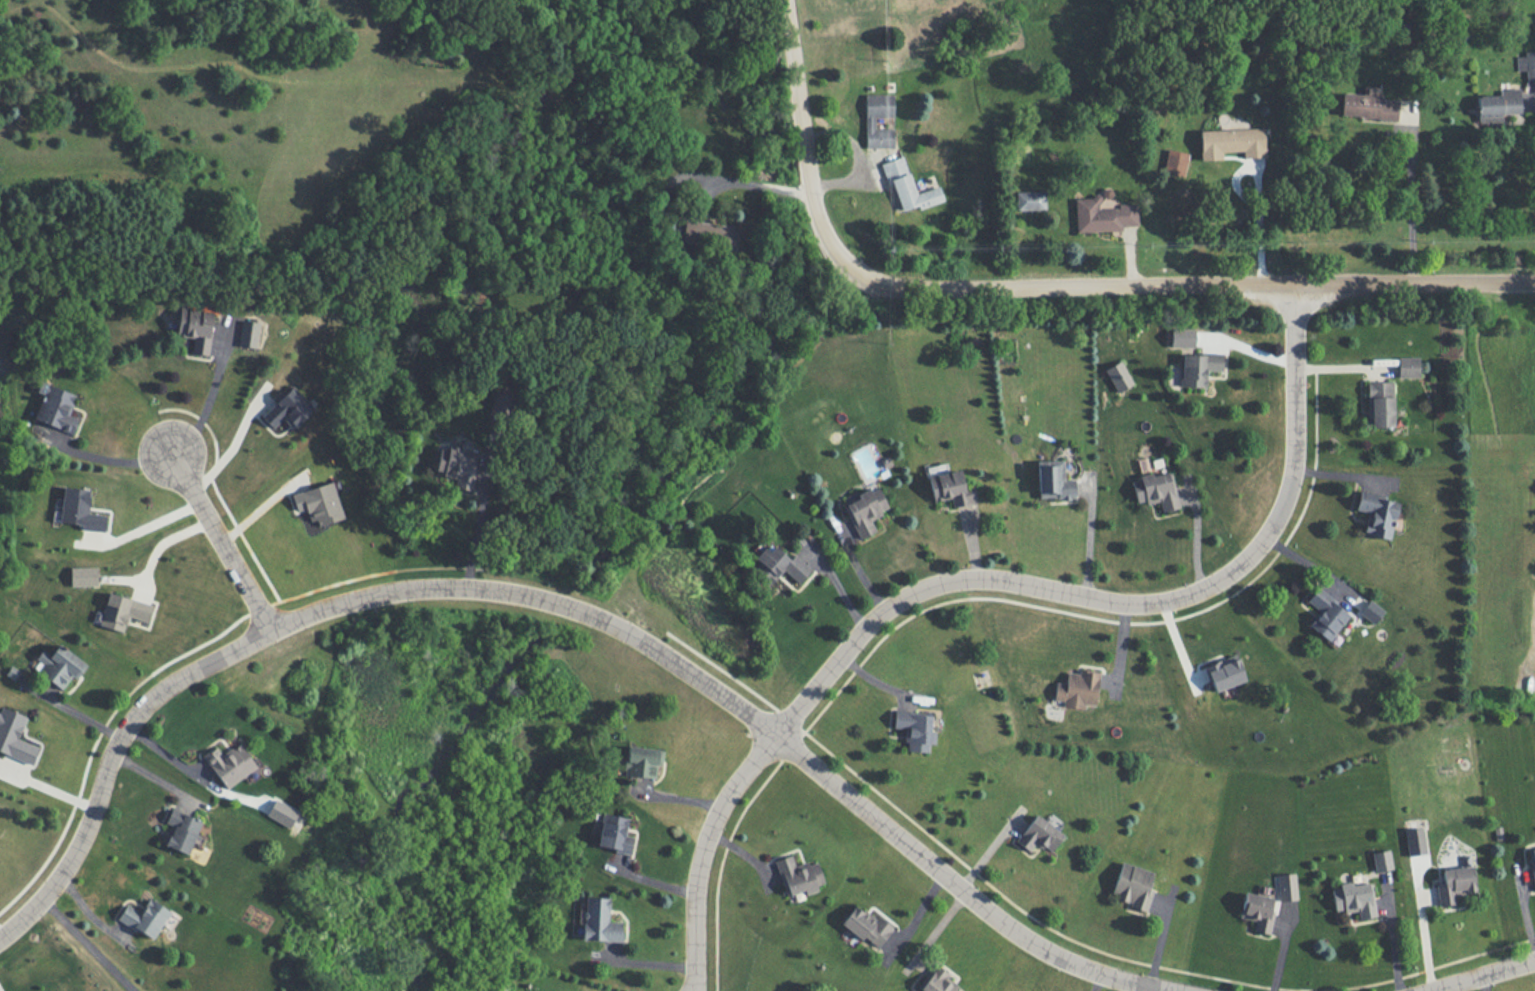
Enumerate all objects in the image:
building: (1526, 63)
building: (1367, 104)
building: (1497, 104)
building: (870, 122)
building: (1230, 142)
building: (1174, 161)
road: (747, 185)
building: (908, 185)
building: (1029, 199)
road: (1412, 205)
building: (1102, 214)
road: (1259, 228)
building: (709, 234)
road: (1047, 288)
building: (195, 327)
building: (248, 332)
building: (1181, 337)
road: (1246, 349)
building: (1407, 366)
building: (1197, 367)
building: (1118, 375)
road: (210, 399)
building: (1379, 402)
building: (500, 403)
building: (55, 406)
building: (287, 408)
building: (58, 432)
road: (230, 442)
road: (113, 461)
building: (457, 466)
road: (1342, 471)
building: (1052, 480)
building: (948, 485)
building: (1155, 489)
building: (318, 503)
building: (79, 509)
building: (865, 510)
building: (1376, 513)
road: (145, 521)
road: (1088, 534)
road: (221, 538)
road: (159, 542)
building: (778, 564)
building: (83, 575)
road: (988, 576)
road: (836, 583)
road: (568, 604)
building: (123, 610)
building: (1370, 611)
building: (1325, 614)
building: (59, 665)
building: (1224, 672)
building: (1076, 688)
road: (73, 711)
building: (914, 728)
building: (14, 736)
building: (641, 760)
building: (229, 763)
road: (47, 786)
building: (281, 812)
building: (181, 830)
building: (613, 833)
building: (1038, 834)
building: (1413, 841)
building: (1381, 859)
building: (1532, 866)
building: (798, 875)
building: (1453, 883)
building: (1132, 885)
building: (1286, 886)
building: (1353, 898)
building: (1257, 910)
building: (144, 917)
building: (599, 920)
building: (865, 925)
road: (86, 945)
road: (1478, 974)
building: (937, 982)

